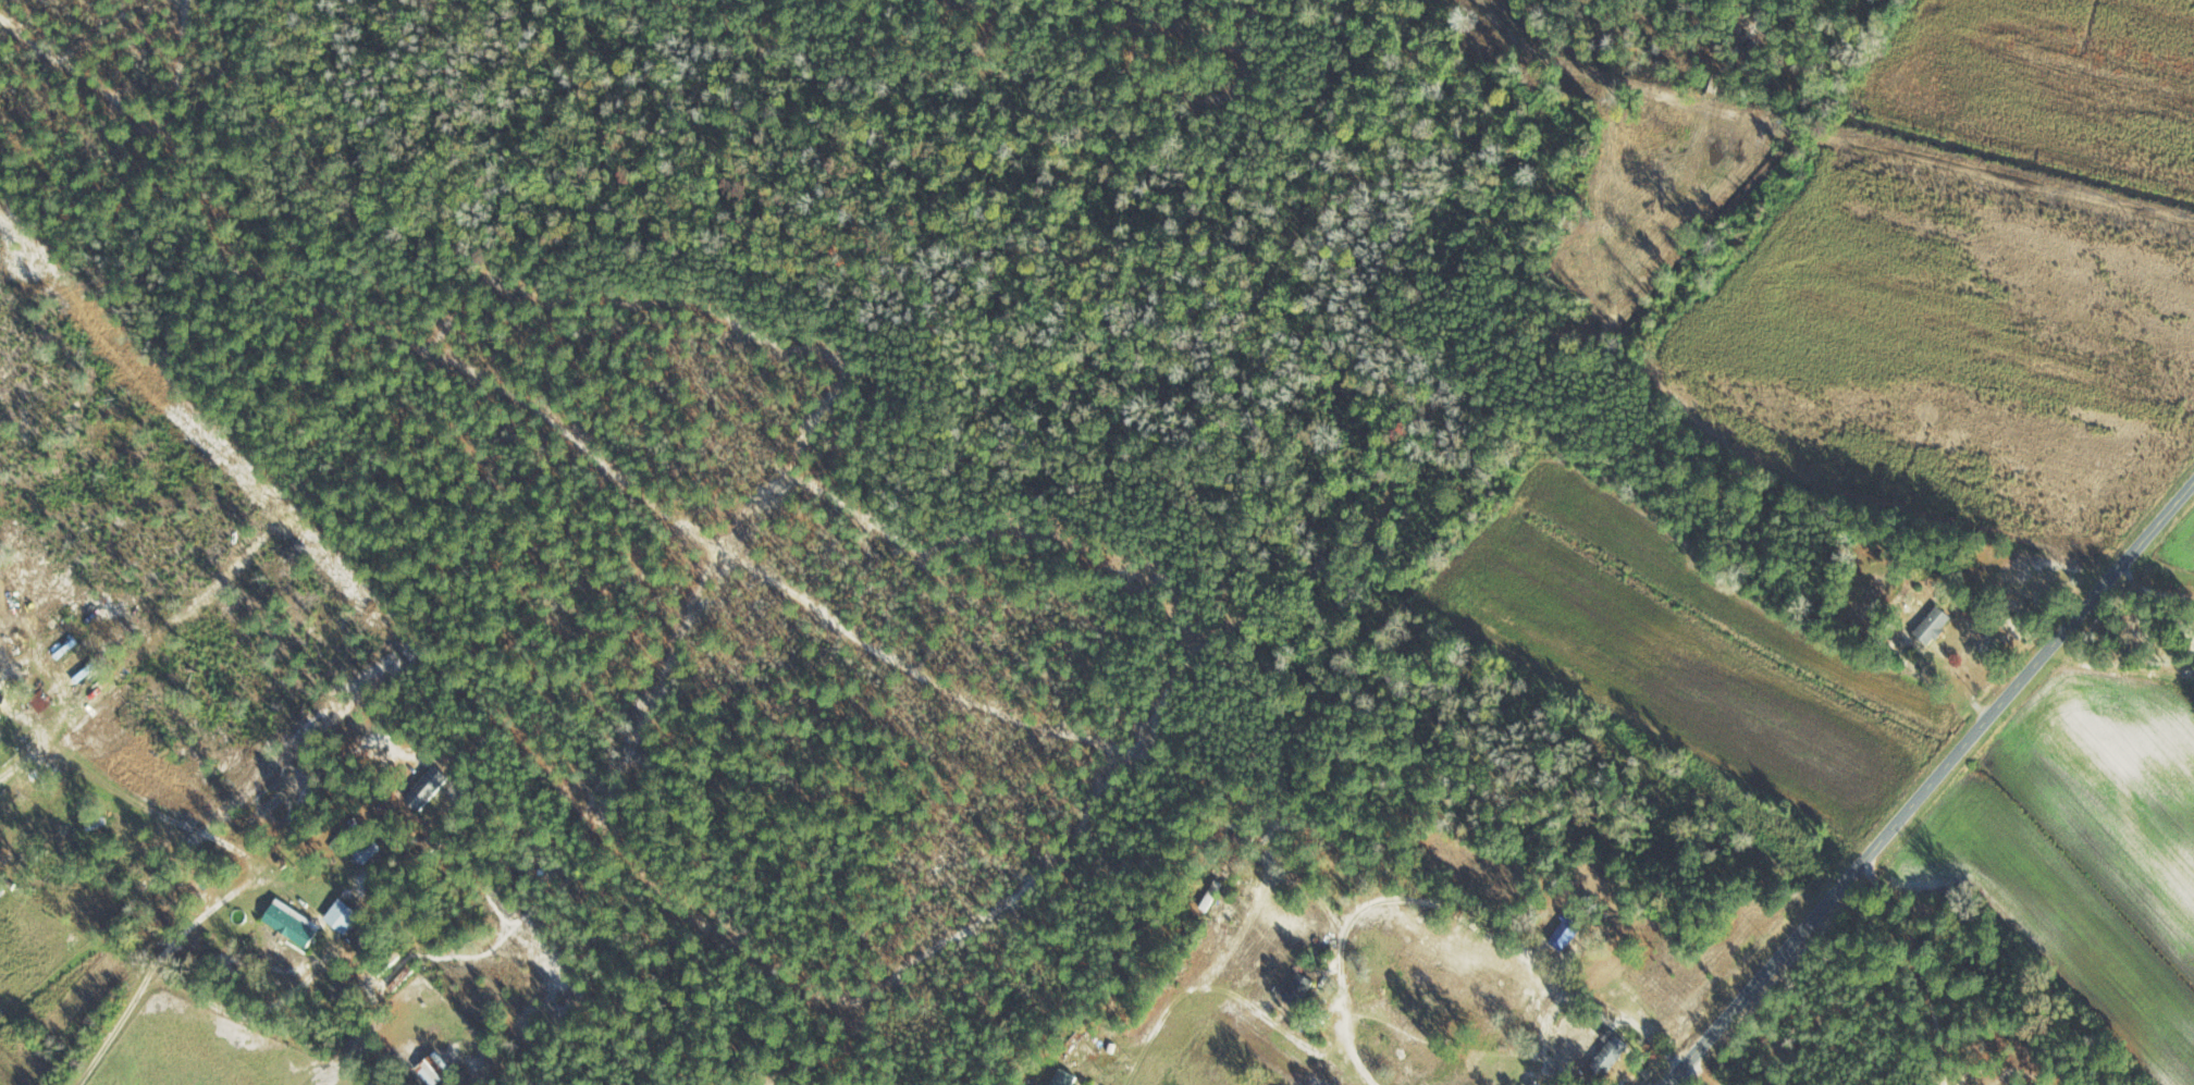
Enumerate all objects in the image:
road: (621, 436)
building: (1933, 626)
building: (40, 701)
road: (1933, 777)
building: (426, 787)
road: (1211, 839)
building: (366, 851)
building: (1210, 896)
building: (342, 915)
building: (292, 923)
building: (1565, 934)
building: (1297, 989)
building: (1608, 1055)
building: (434, 1068)
building: (1063, 1077)

